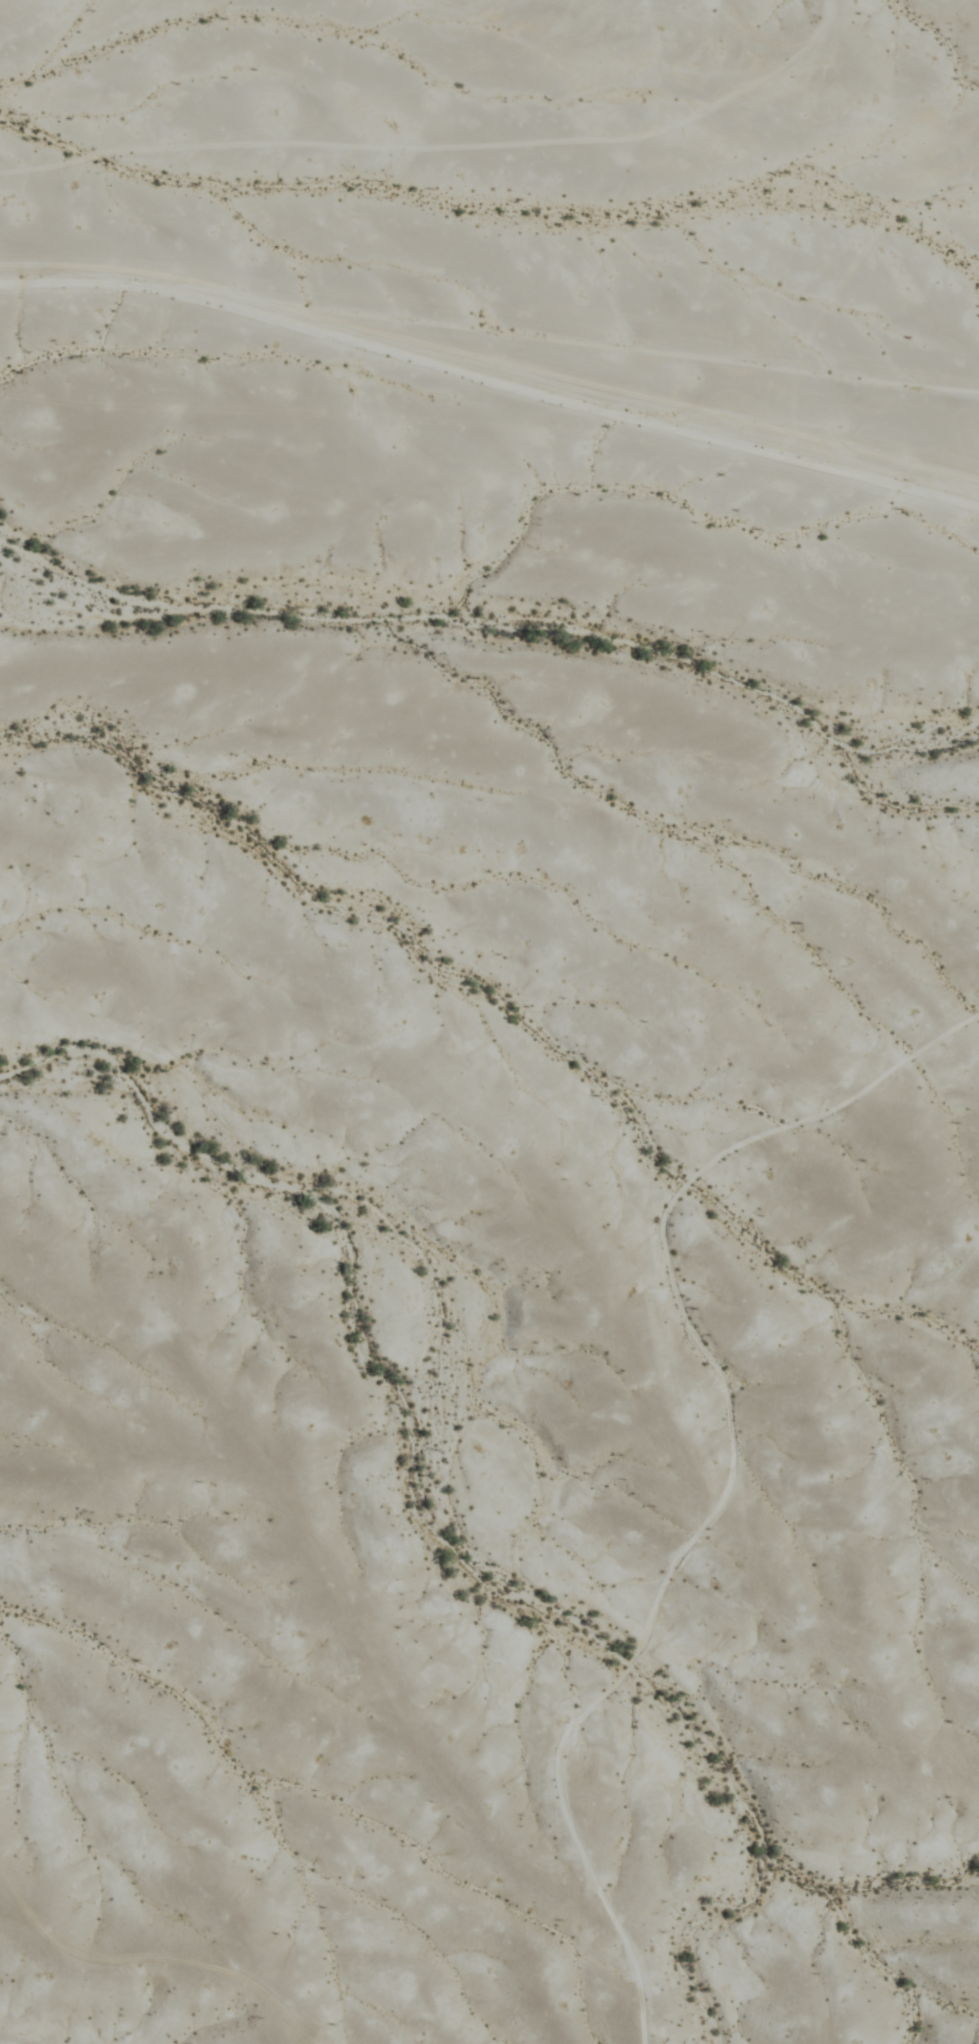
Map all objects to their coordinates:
road: (490, 386)

